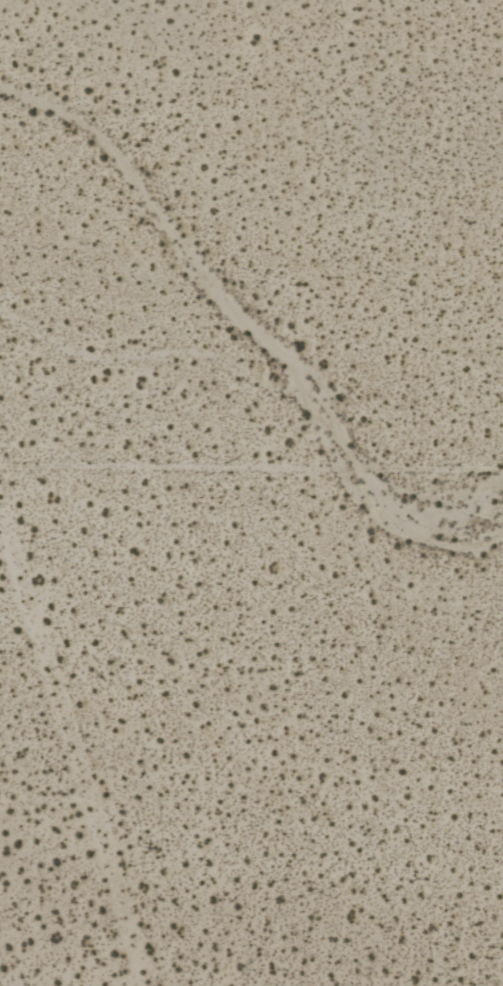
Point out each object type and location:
road: (87, 745)

